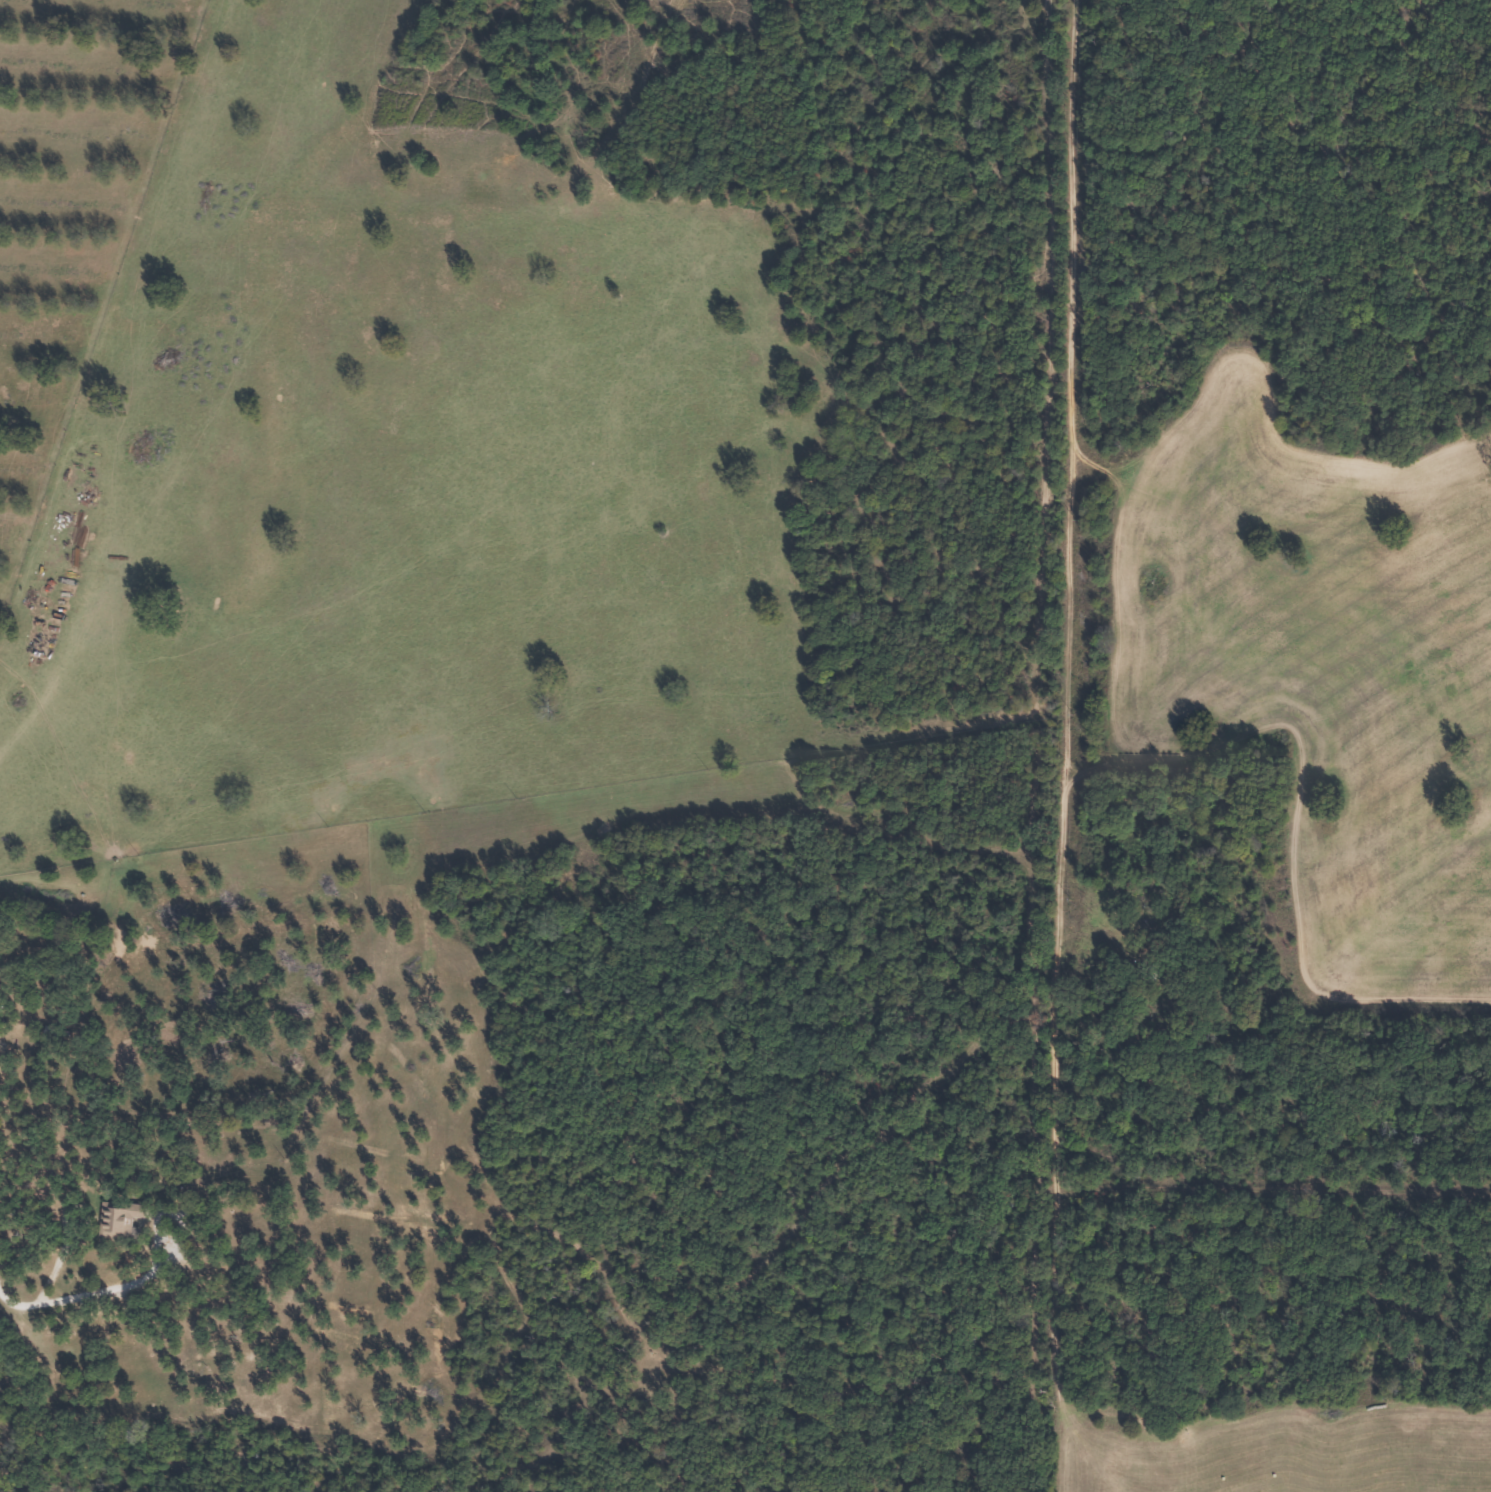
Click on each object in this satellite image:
building: (122, 1218)

